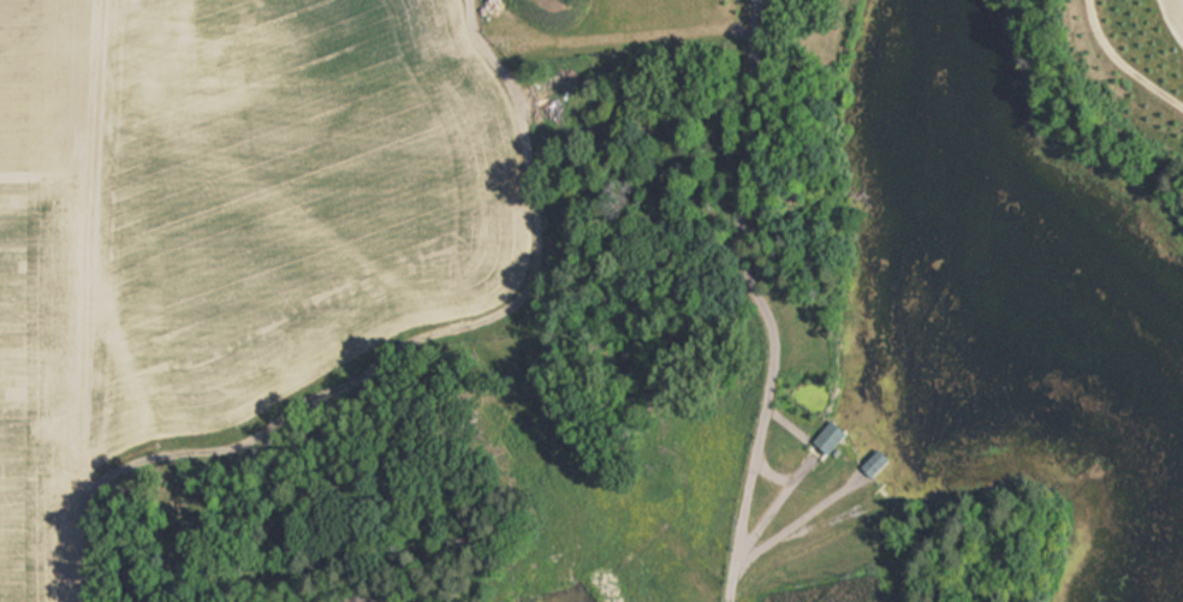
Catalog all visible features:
building: (500, 11)
building: (826, 433)

